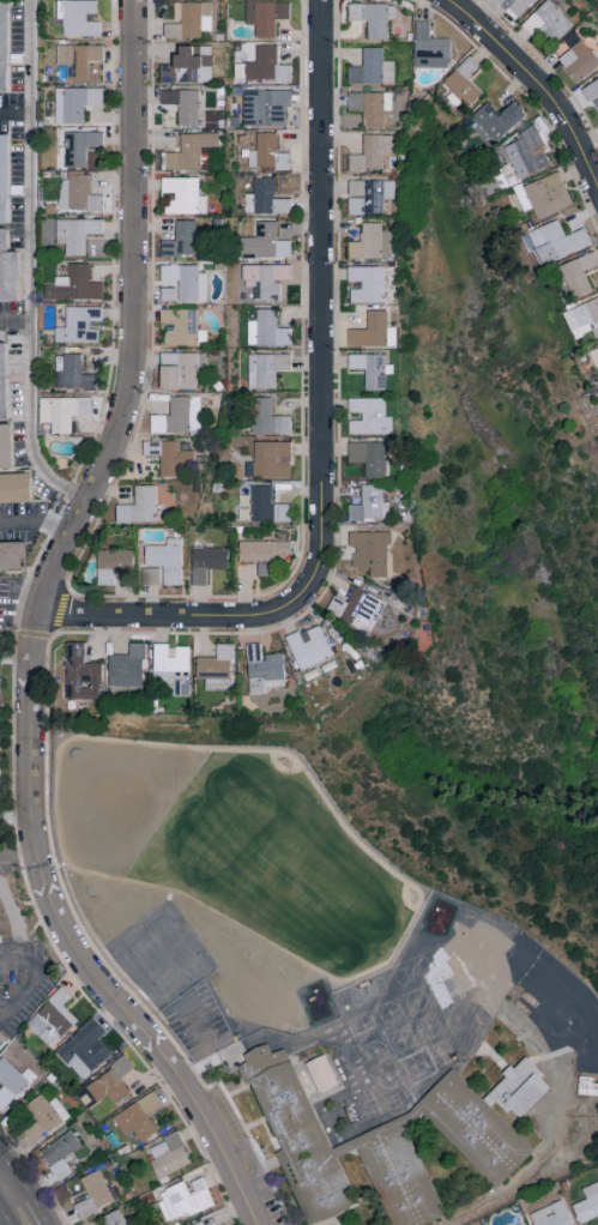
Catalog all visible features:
building: (515, 6)
building: (265, 16)
building: (373, 17)
building: (188, 19)
building: (552, 19)
building: (2, 47)
building: (430, 47)
building: (78, 59)
building: (188, 65)
building: (266, 66)
building: (372, 68)
road: (537, 82)
building: (463, 83)
building: (591, 92)
building: (74, 103)
building: (183, 104)
building: (370, 105)
building: (265, 108)
road: (16, 114)
building: (496, 120)
building: (80, 144)
building: (191, 151)
building: (372, 152)
building: (528, 152)
building: (267, 153)
building: (4, 177)
building: (78, 193)
building: (546, 194)
building: (183, 195)
building: (369, 195)
building: (264, 198)
building: (72, 233)
building: (181, 240)
building: (555, 241)
building: (266, 242)
building: (372, 242)
road: (31, 265)
building: (7, 271)
building: (579, 273)
road: (322, 274)
building: (261, 282)
building: (187, 283)
building: (74, 284)
building: (368, 284)
building: (168, 294)
building: (584, 318)
road: (16, 320)
building: (79, 325)
building: (182, 327)
building: (266, 328)
building: (374, 331)
building: (594, 355)
building: (180, 369)
building: (265, 369)
building: (372, 369)
building: (75, 373)
building: (2, 384)
building: (61, 411)
building: (179, 416)
building: (369, 417)
building: (268, 418)
building: (5, 447)
building: (170, 457)
building: (369, 457)
building: (271, 459)
building: (14, 488)
building: (370, 505)
building: (138, 506)
building: (267, 506)
road: (37, 520)
building: (370, 551)
building: (261, 553)
building: (11, 557)
building: (165, 560)
building: (206, 562)
building: (113, 565)
building: (150, 575)
building: (357, 609)
road: (201, 615)
road: (41, 634)
building: (308, 647)
road: (19, 658)
building: (127, 666)
building: (171, 666)
building: (216, 669)
building: (262, 669)
building: (80, 674)
road: (17, 817)
road: (19, 855)
building: (7, 888)
building: (14, 928)
road: (14, 961)
road: (25, 995)
building: (572, 1004)
building: (248, 1014)
building: (52, 1018)
building: (542, 1021)
road: (567, 1022)
parking lot: (205, 1034)
building: (0, 1036)
building: (1, 1042)
building: (84, 1048)
road: (221, 1062)
building: (325, 1078)
building: (10, 1081)
building: (110, 1081)
building: (44, 1116)
building: (138, 1117)
building: (379, 1146)
building: (168, 1153)
building: (58, 1157)
parking lot: (252, 1157)
road: (2, 1188)
building: (95, 1193)
building: (183, 1199)
road: (14, 1202)
building: (587, 1203)
building: (551, 1214)
building: (113, 1218)
building: (197, 1224)
building: (225, 1224)

